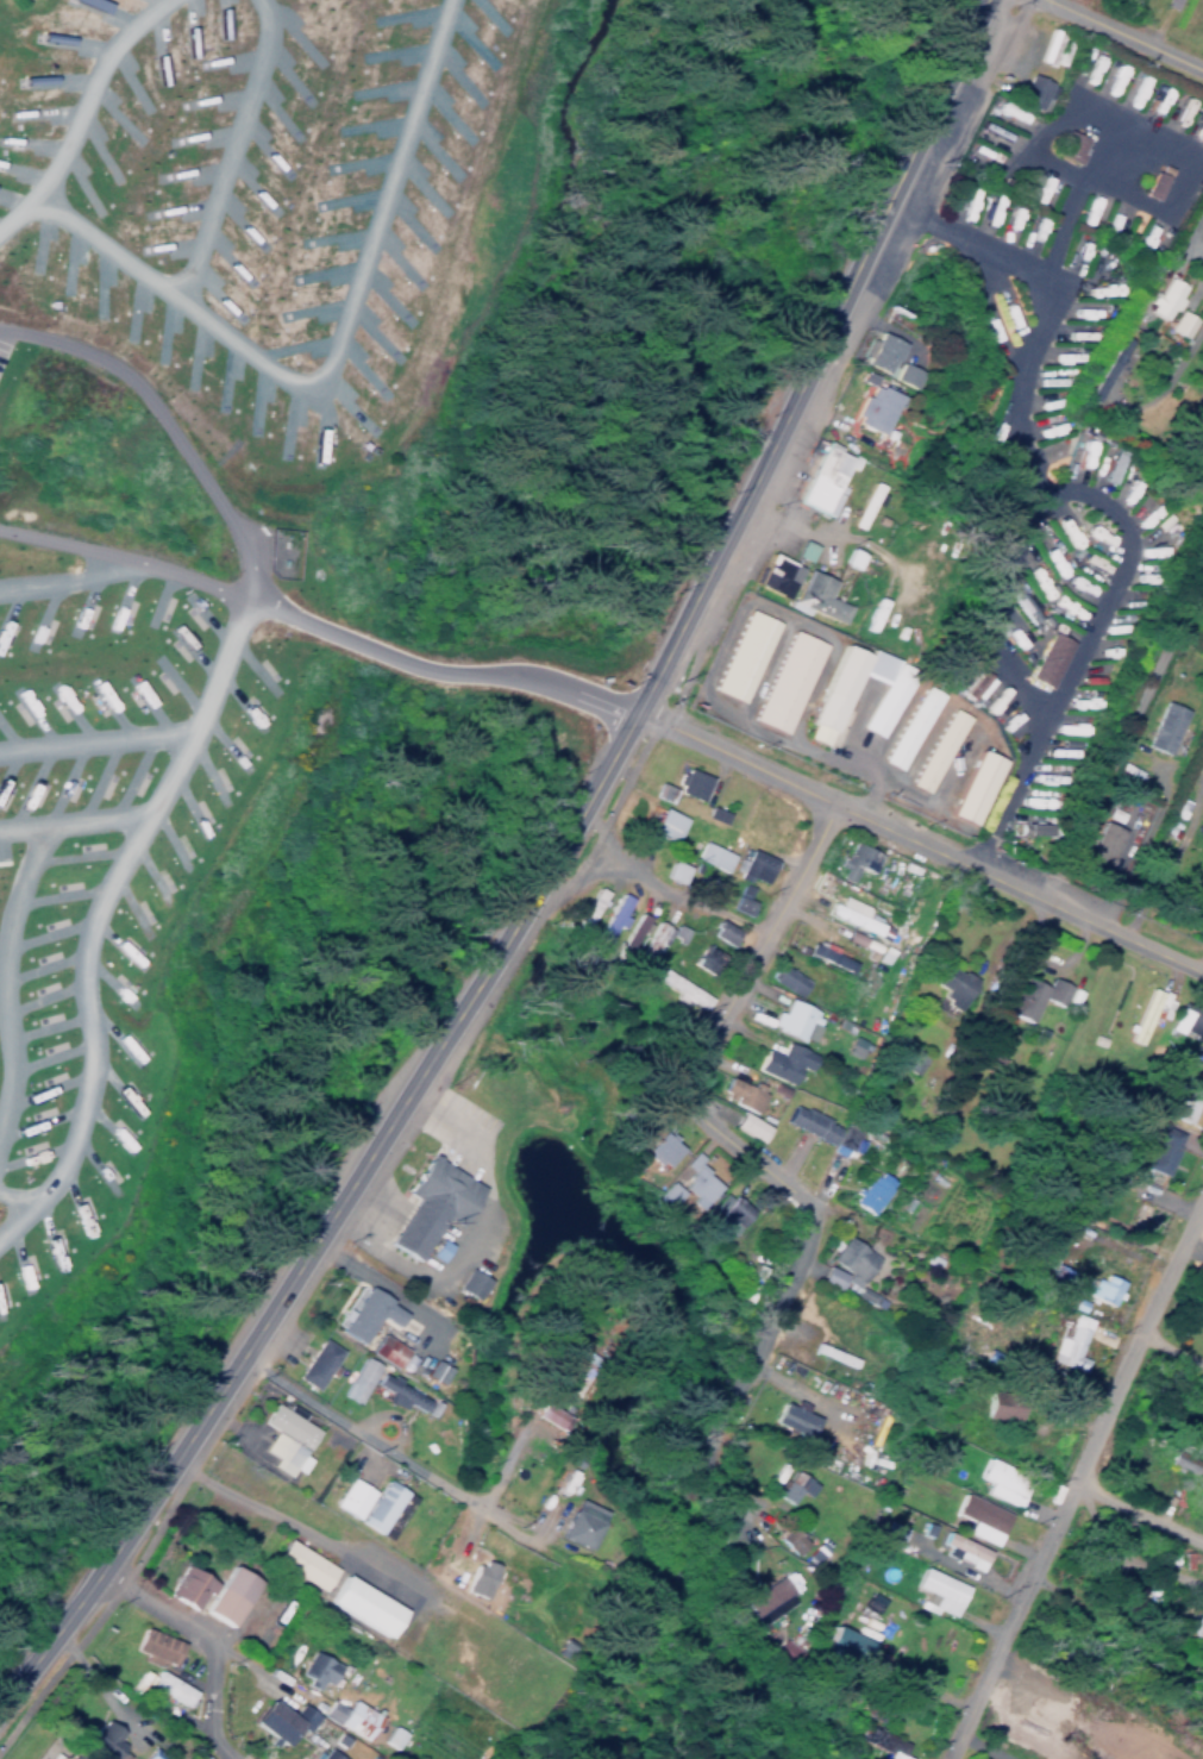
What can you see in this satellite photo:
building: (1168, 4)
road: (1129, 32)
building: (1034, 90)
building: (1198, 127)
road: (1130, 131)
building: (1069, 145)
building: (1152, 184)
road: (1072, 193)
road: (1198, 221)
building: (1161, 299)
building: (1178, 324)
road: (1182, 350)
building: (879, 351)
building: (903, 374)
building: (872, 408)
road: (1019, 418)
building: (822, 477)
building: (861, 505)
building: (803, 550)
building: (850, 556)
building: (775, 574)
building: (815, 596)
road: (320, 622)
road: (1079, 647)
building: (743, 655)
building: (1047, 658)
building: (953, 668)
building: (785, 681)
building: (975, 683)
building: (827, 701)
building: (908, 726)
building: (1163, 726)
road: (1122, 737)
building: (935, 749)
building: (688, 782)
building: (972, 785)
building: (660, 791)
building: (662, 822)
building: (1025, 828)
road: (919, 838)
building: (1101, 843)
road: (1172, 855)
building: (710, 856)
building: (853, 859)
building: (751, 864)
road: (540, 876)
building: (739, 899)
building: (588, 909)
building: (852, 915)
building: (612, 920)
building: (720, 931)
building: (631, 932)
building: (654, 941)
building: (825, 954)
building: (785, 978)
building: (950, 979)
building: (682, 989)
building: (1028, 996)
building: (1142, 1013)
building: (1184, 1018)
building: (792, 1020)
building: (1198, 1044)
building: (781, 1062)
building: (740, 1093)
building: (1182, 1098)
road: (714, 1122)
building: (808, 1122)
building: (746, 1125)
building: (841, 1140)
building: (1155, 1141)
building: (659, 1147)
building: (628, 1164)
building: (694, 1181)
building: (869, 1191)
building: (427, 1203)
building: (721, 1213)
building: (1054, 1275)
building: (469, 1283)
building: (1099, 1288)
building: (364, 1314)
building: (1067, 1344)
road: (1167, 1346)
building: (384, 1350)
building: (314, 1363)
building: (356, 1378)
building: (397, 1392)
building: (997, 1404)
building: (545, 1413)
building: (791, 1416)
road: (381, 1438)
building: (284, 1439)
building: (1180, 1458)
road: (1073, 1472)
building: (1000, 1482)
building: (790, 1486)
building: (349, 1497)
building: (380, 1506)
road: (1135, 1515)
building: (979, 1517)
road: (314, 1519)
building: (581, 1523)
building: (881, 1528)
building: (787, 1538)
building: (960, 1550)
building: (300, 1564)
building: (477, 1578)
building: (186, 1588)
building: (936, 1591)
building: (225, 1595)
building: (763, 1600)
building: (361, 1604)
road: (207, 1640)
building: (844, 1645)
building: (153, 1647)
building: (314, 1669)
building: (163, 1686)
building: (349, 1716)
building: (277, 1720)
building: (390, 1736)
building: (876, 1738)
building: (101, 1739)
building: (151, 1754)
building: (324, 1754)
building: (199, 1757)

